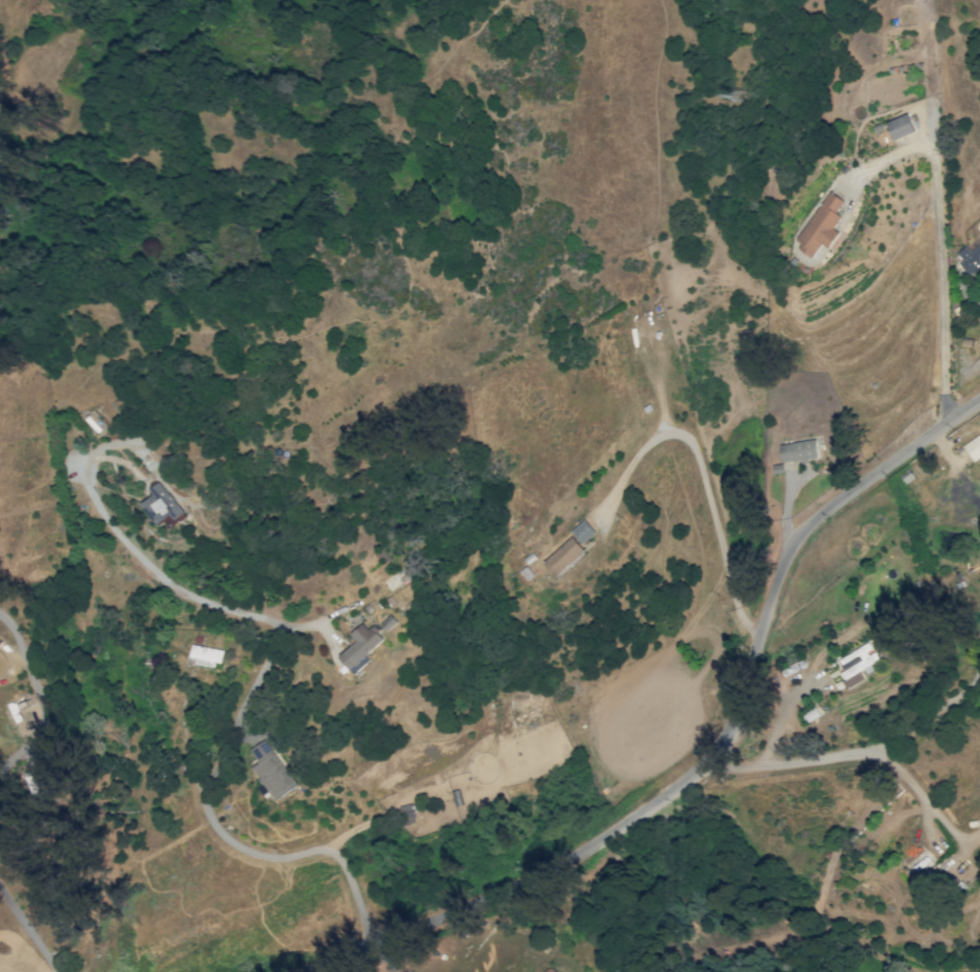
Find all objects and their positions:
power tower: (738, 97)
building: (900, 126)
building: (821, 225)
road: (939, 247)
building: (970, 259)
building: (973, 447)
building: (793, 454)
building: (162, 504)
building: (582, 531)
building: (563, 556)
building: (389, 623)
building: (361, 647)
building: (204, 656)
building: (857, 661)
road: (40, 699)
road: (237, 719)
road: (184, 741)
road: (863, 752)
road: (711, 754)
building: (271, 770)
road: (27, 930)
road: (384, 958)

